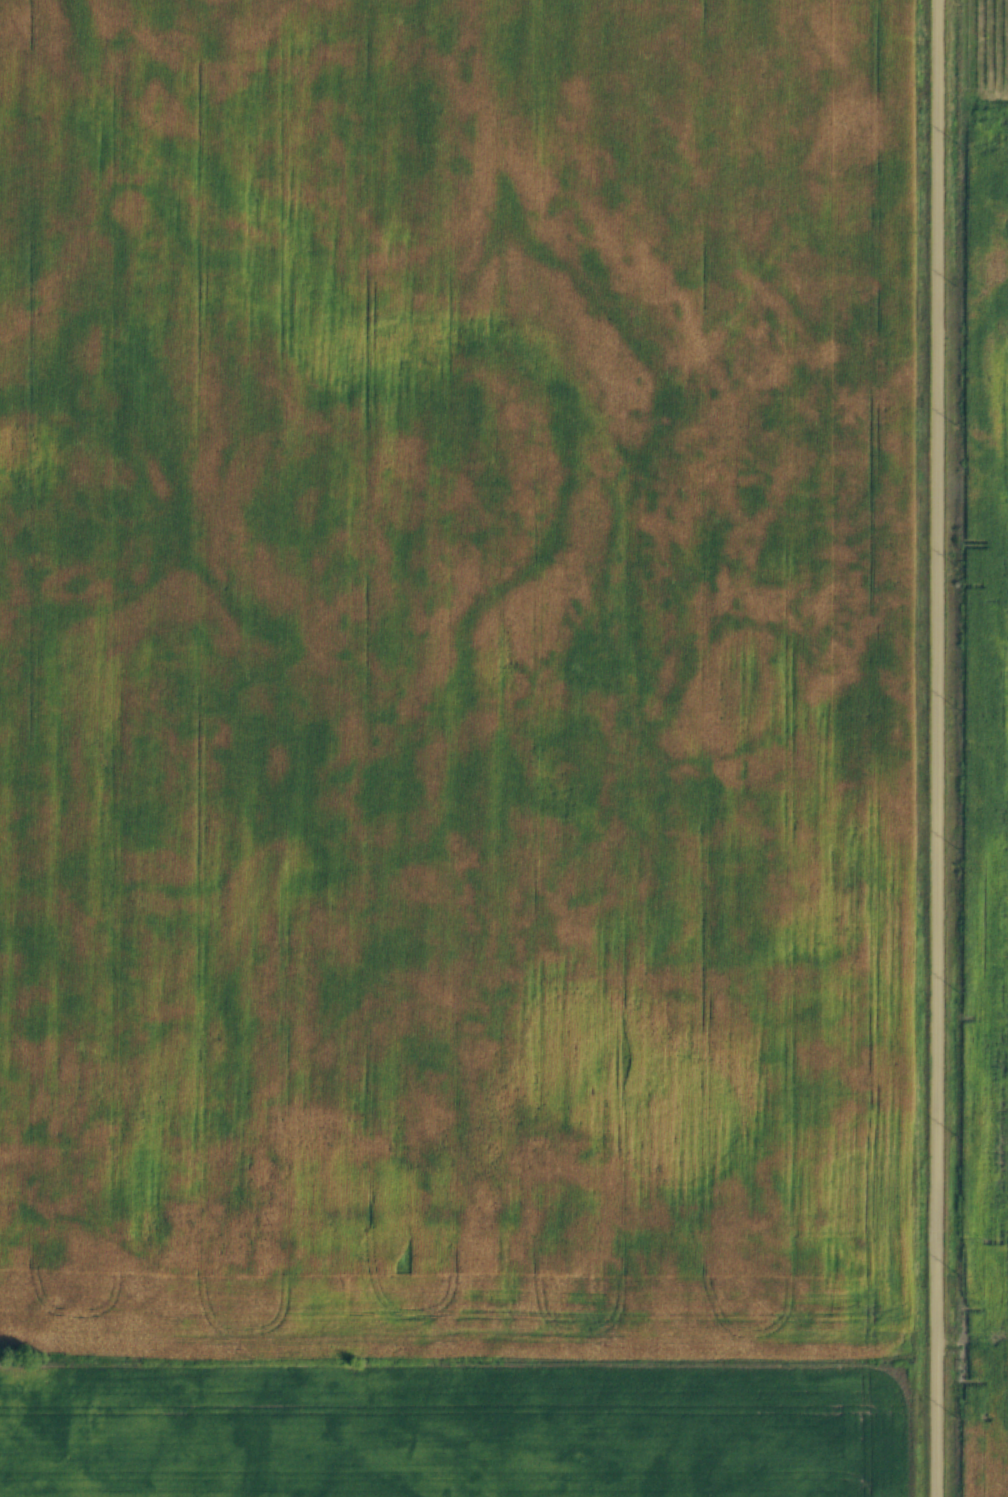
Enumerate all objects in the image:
road: (939, 748)

